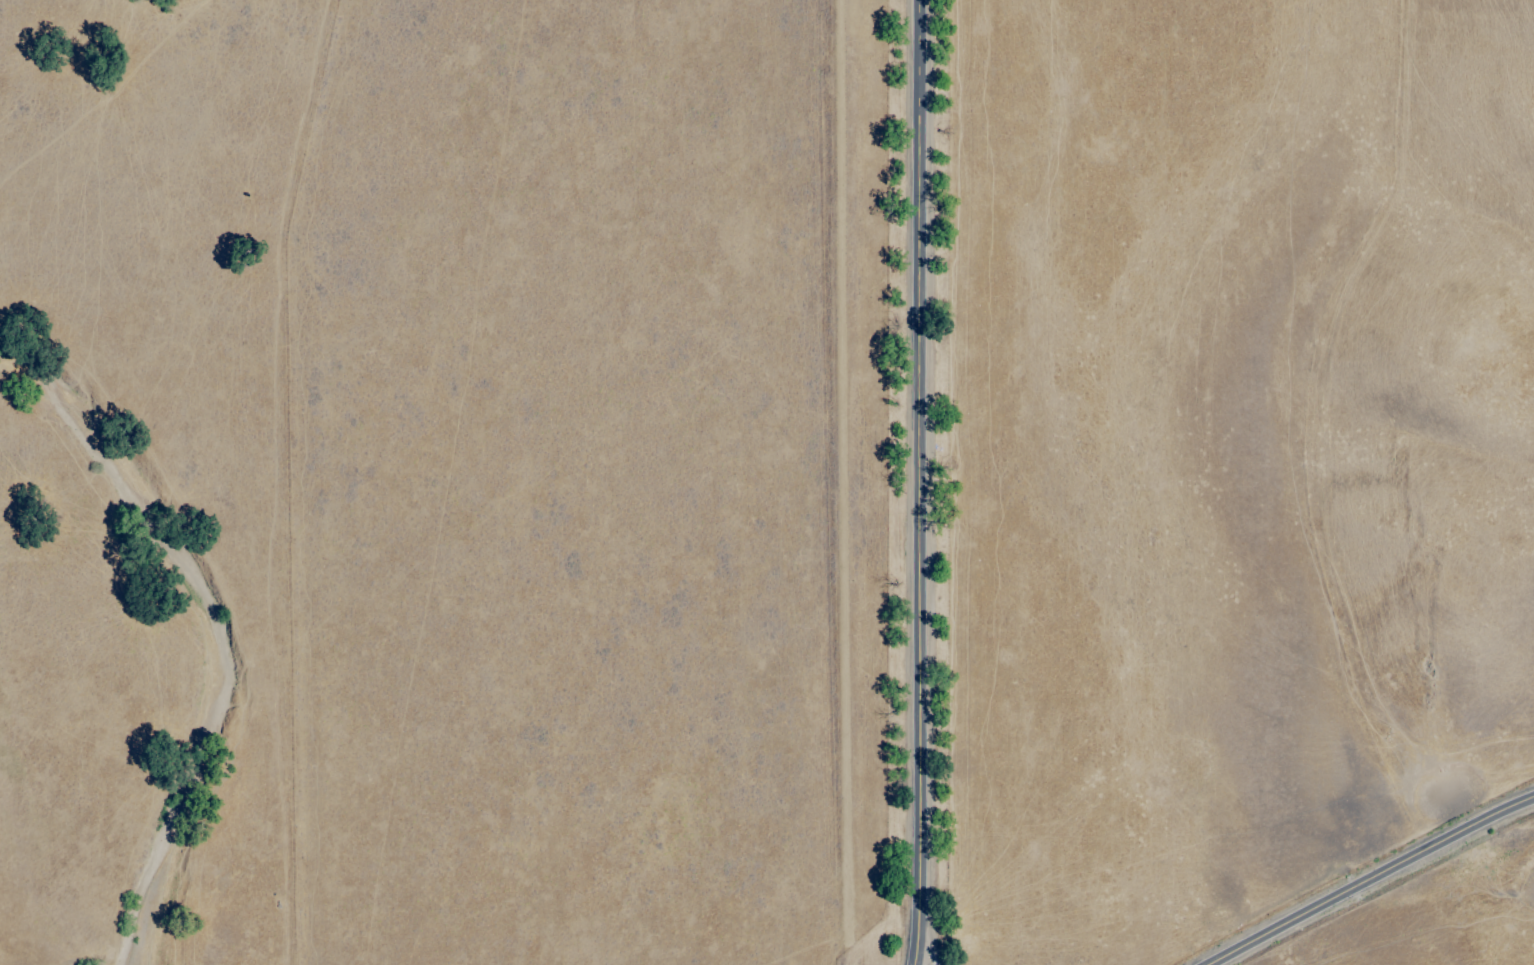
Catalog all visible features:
road: (920, 482)
road: (1322, 482)
park: (1465, 561)
road: (1373, 882)
road: (927, 950)

